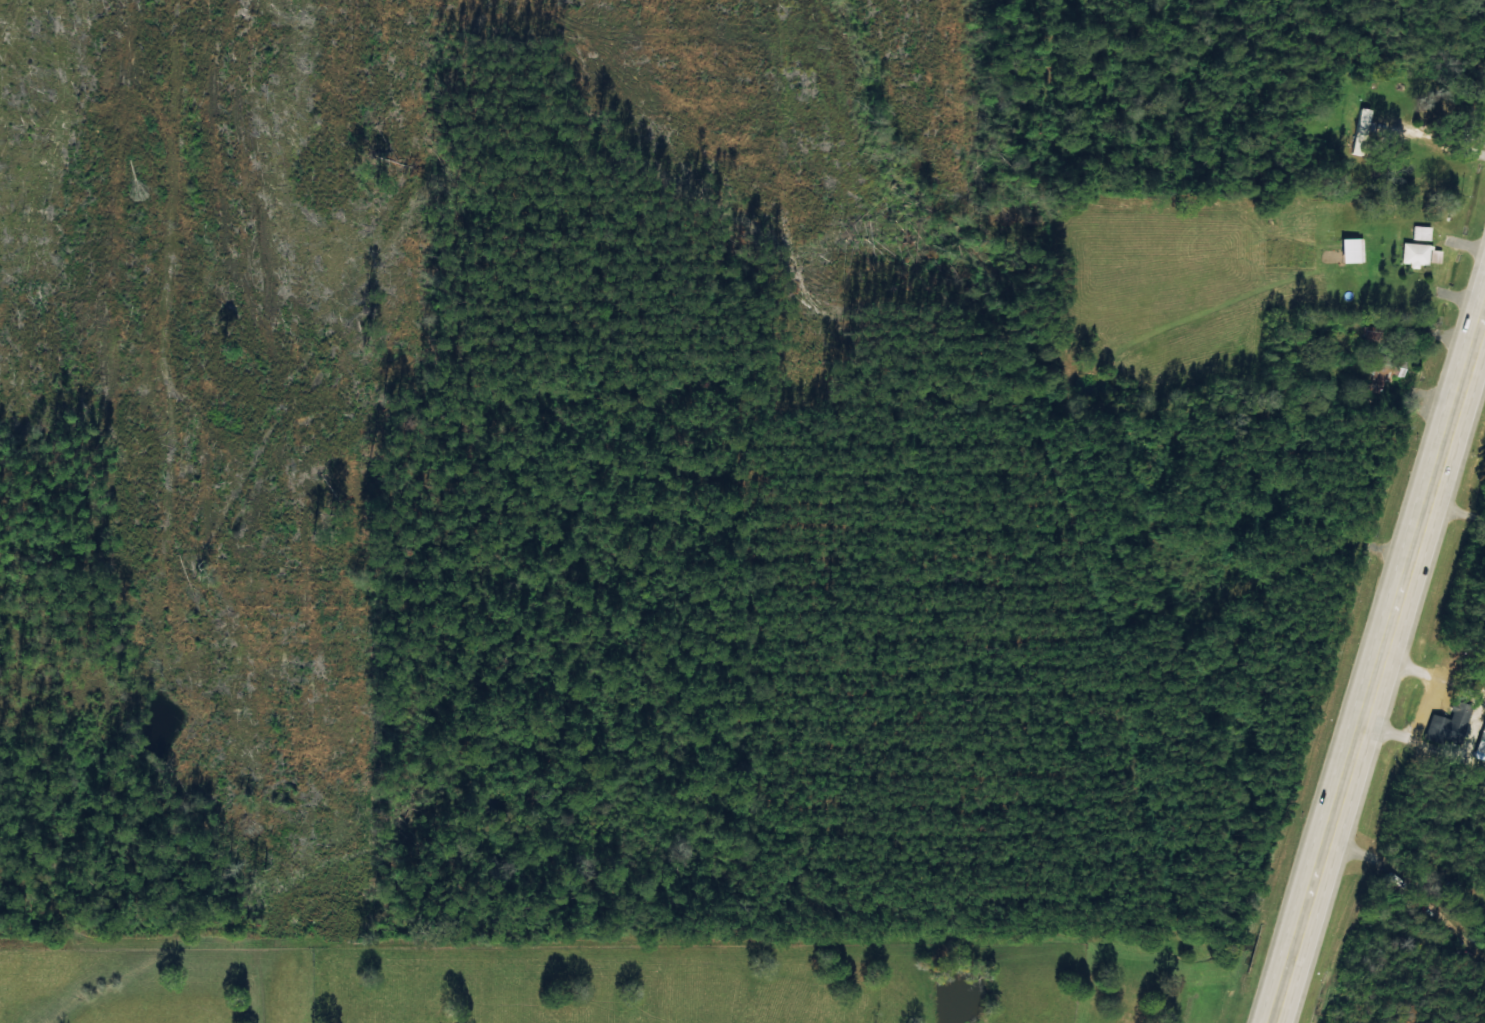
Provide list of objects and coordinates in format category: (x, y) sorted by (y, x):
building: (1359, 119)
building: (1418, 231)
building: (1416, 253)
road: (1466, 374)
building: (1444, 724)
road: (1359, 731)
building: (1479, 743)

